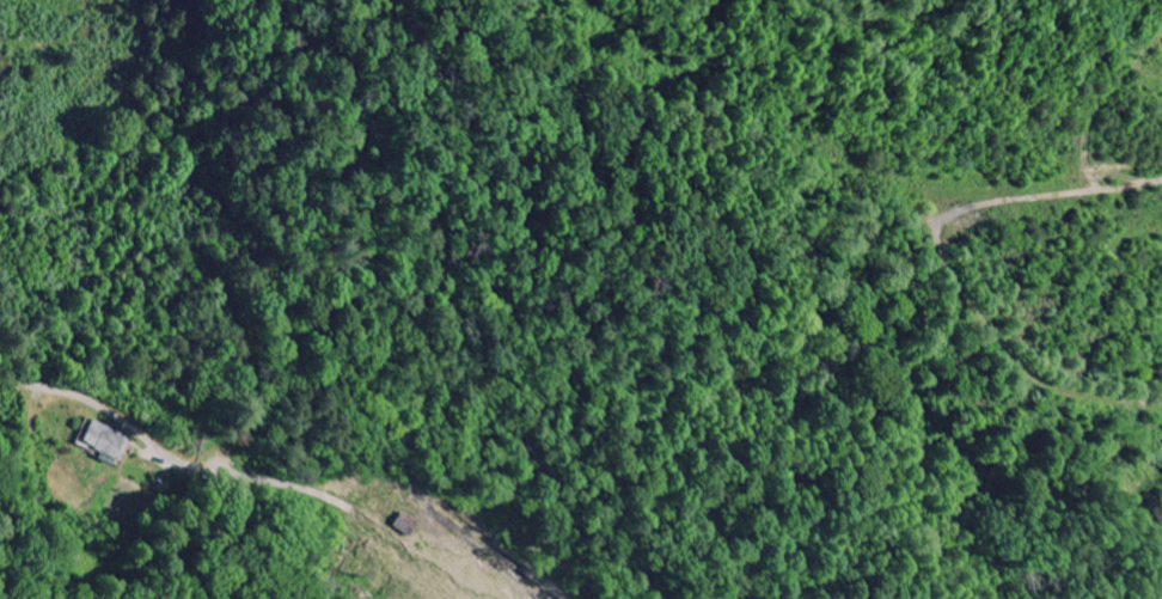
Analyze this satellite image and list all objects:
building: (111, 440)
road: (170, 453)

